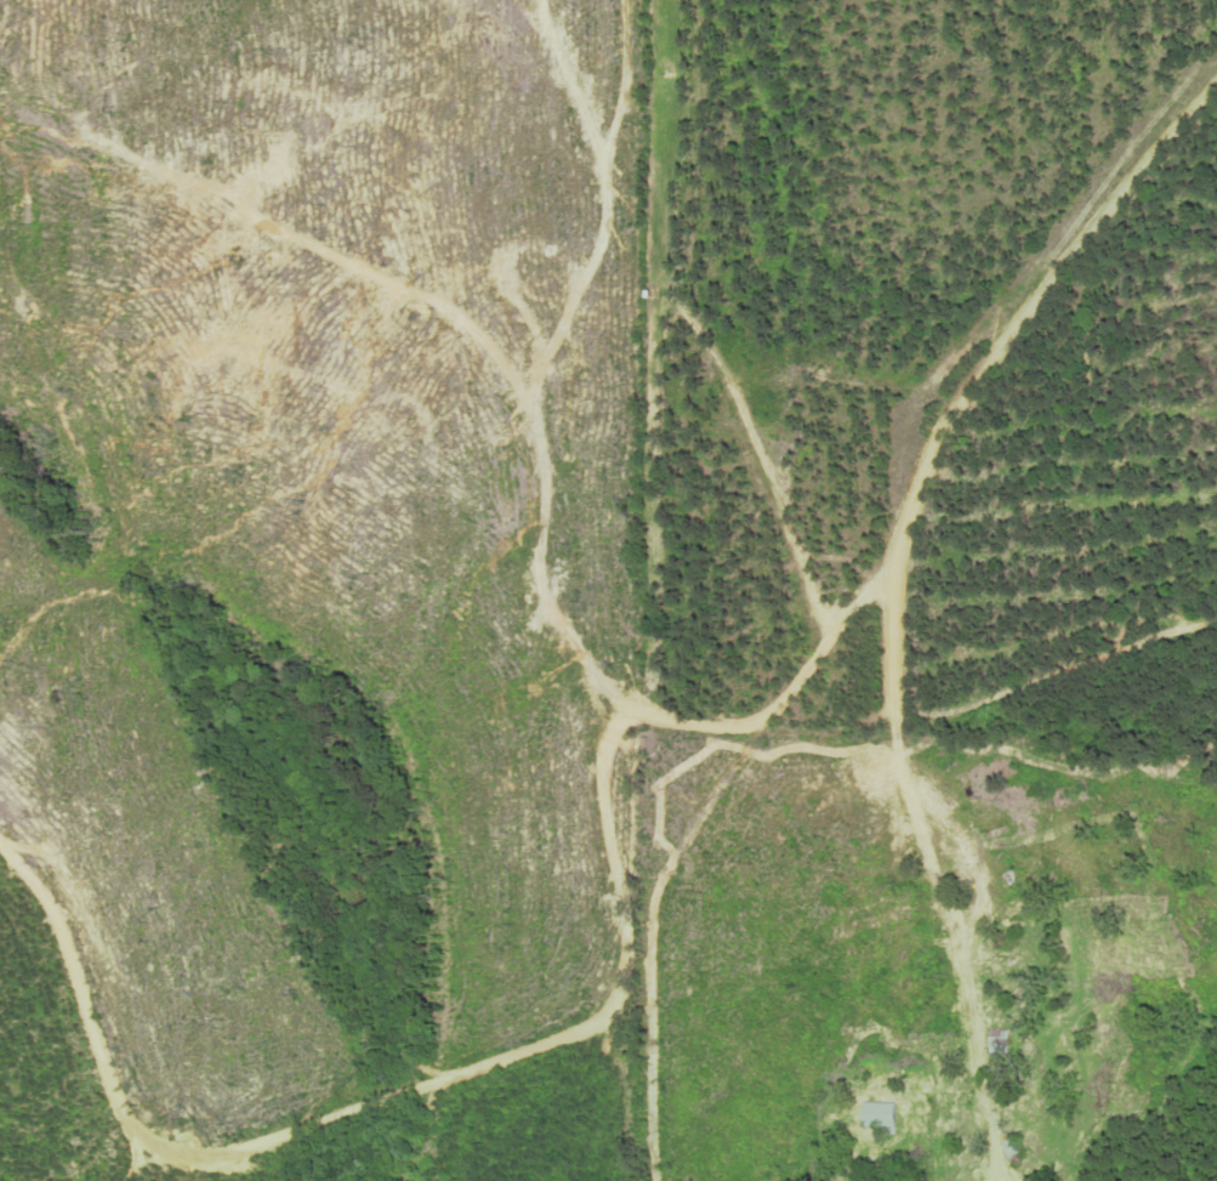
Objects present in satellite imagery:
road: (988, 358)
building: (1003, 1040)
building: (882, 1118)
road: (216, 1151)
building: (1017, 1151)

